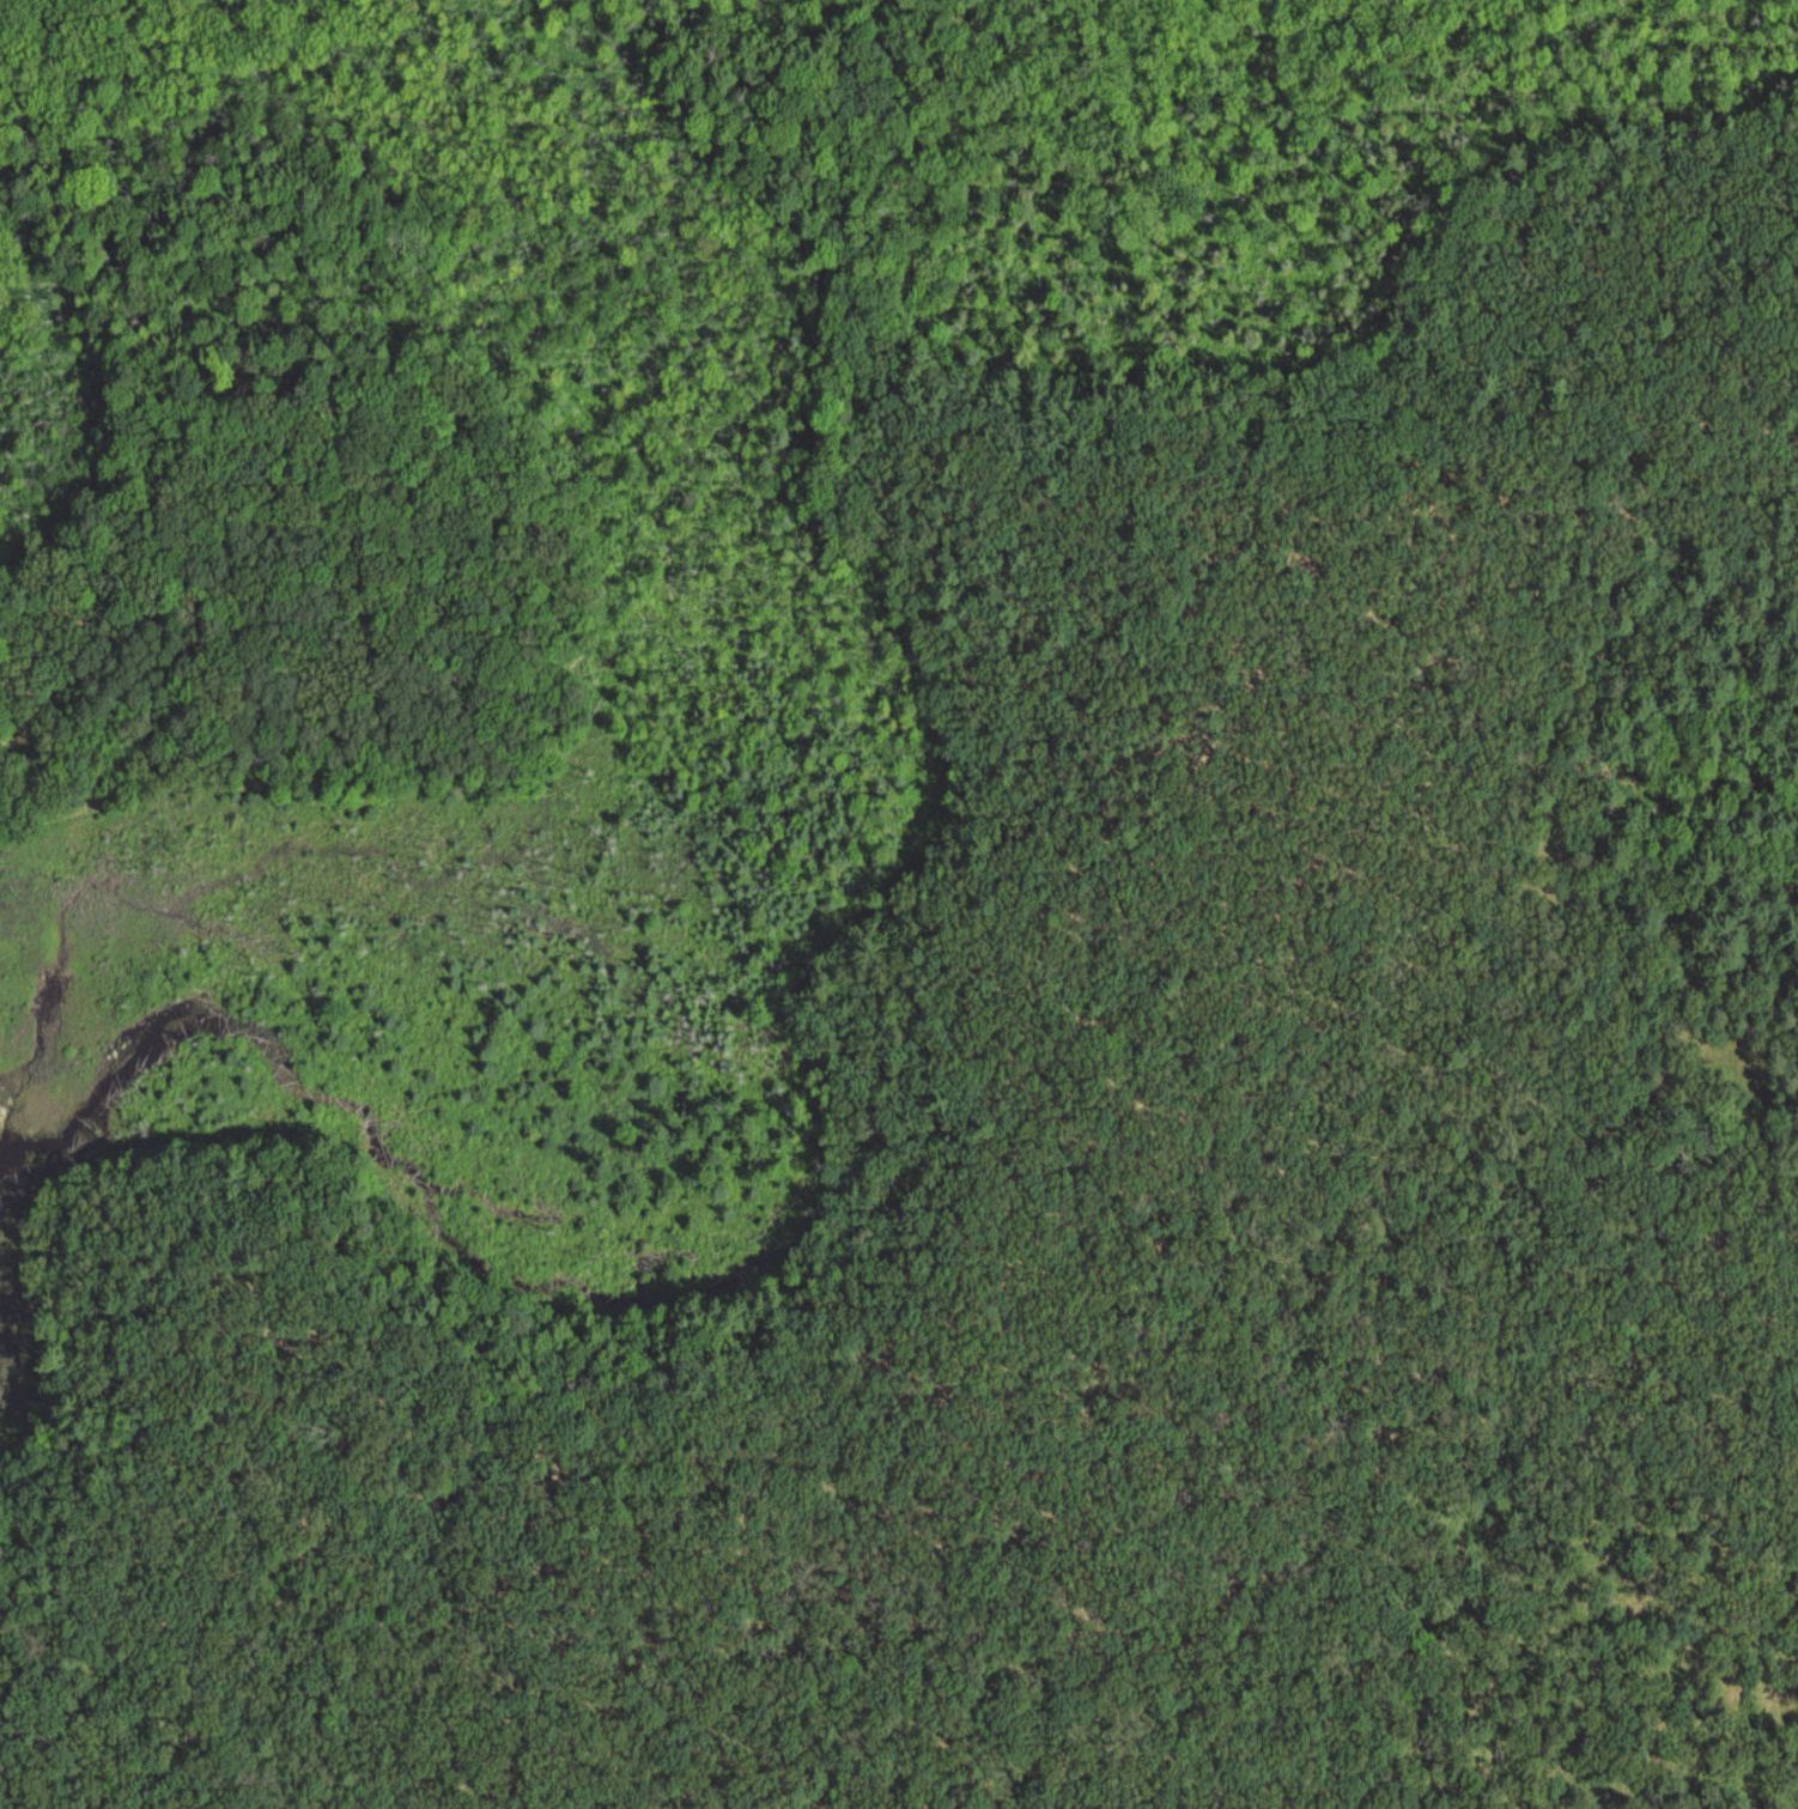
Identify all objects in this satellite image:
road: (1565, 1628)

